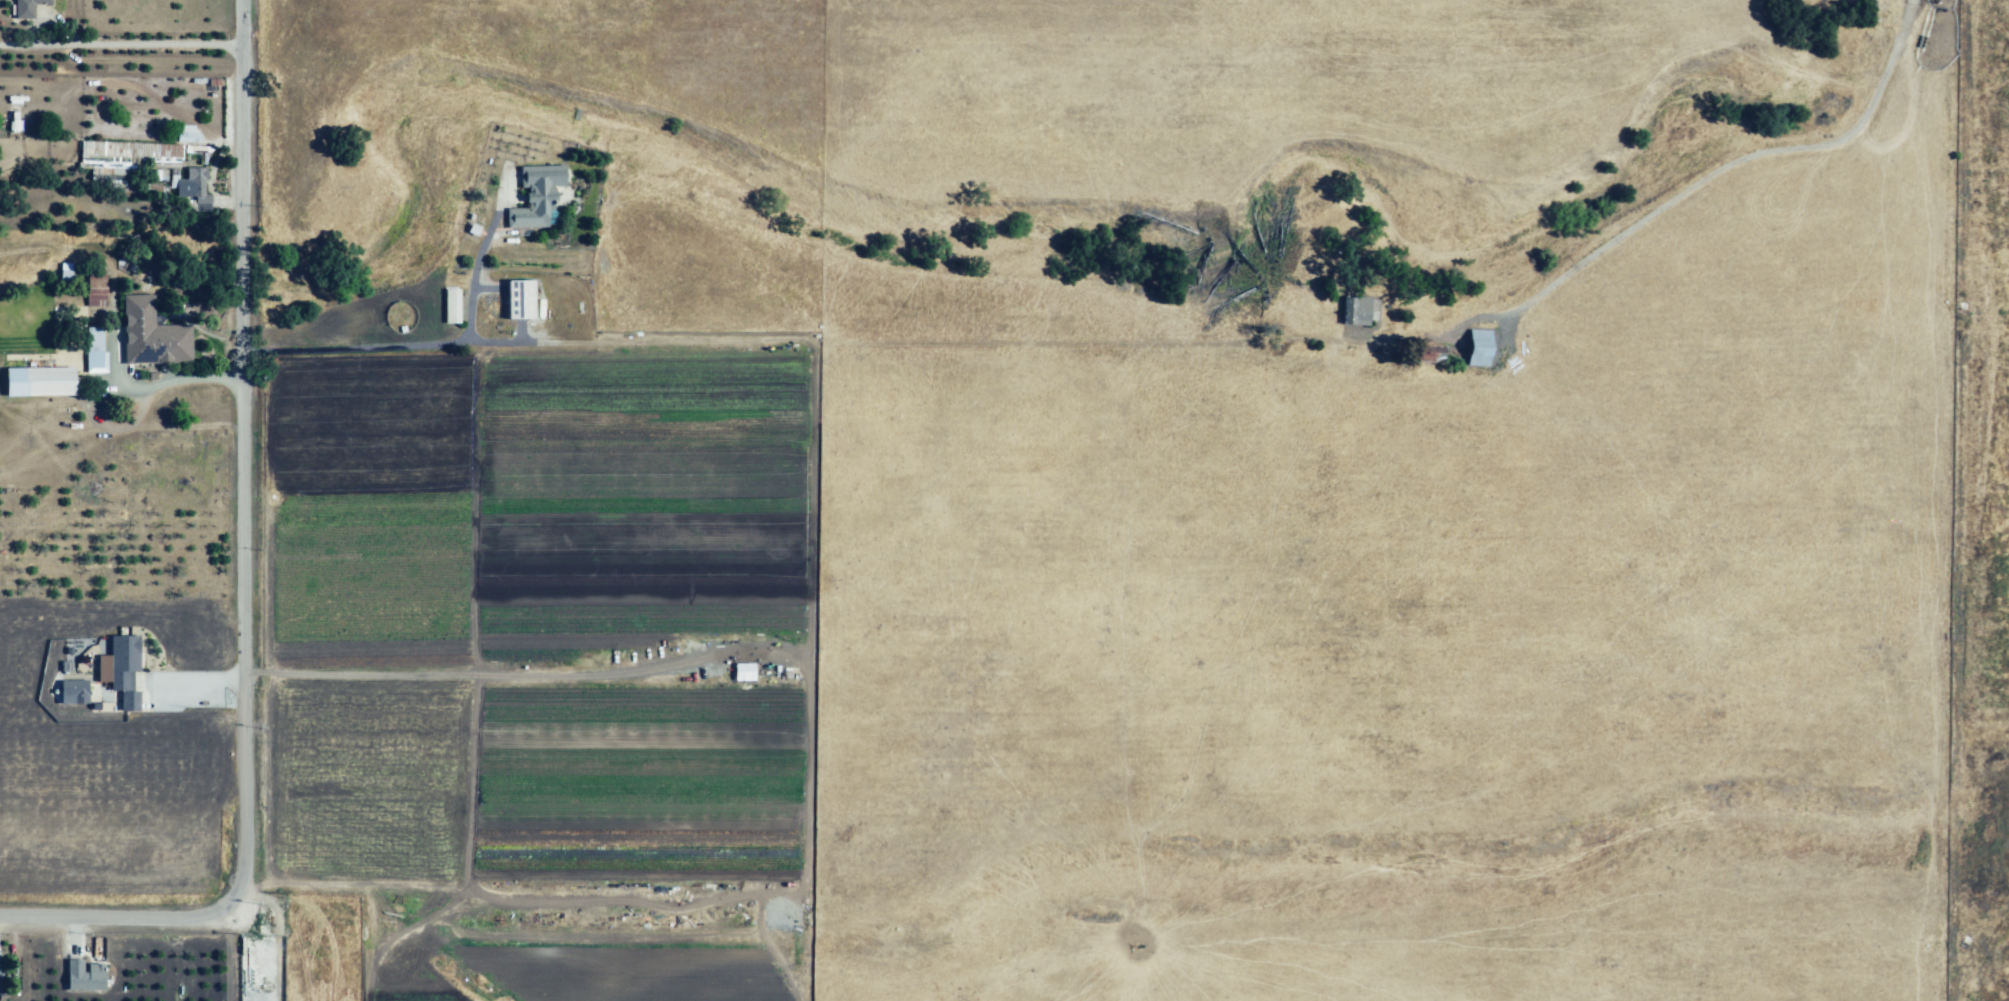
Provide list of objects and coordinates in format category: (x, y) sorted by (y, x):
building: (28, 8)
road: (123, 45)
road: (1371, 117)
building: (188, 134)
building: (134, 153)
building: (195, 188)
building: (538, 196)
road: (1674, 197)
road: (475, 269)
building: (99, 285)
building: (523, 302)
building: (452, 307)
building: (1354, 313)
building: (154, 336)
building: (98, 346)
road: (438, 350)
road: (1012, 351)
building: (1475, 352)
building: (1425, 360)
building: (42, 383)
road: (239, 454)
crop: (1119, 498)
building: (125, 658)
building: (743, 672)
road: (198, 677)
building: (75, 691)
building: (131, 703)
road: (116, 920)
road: (229, 954)
building: (1, 977)
building: (86, 977)

